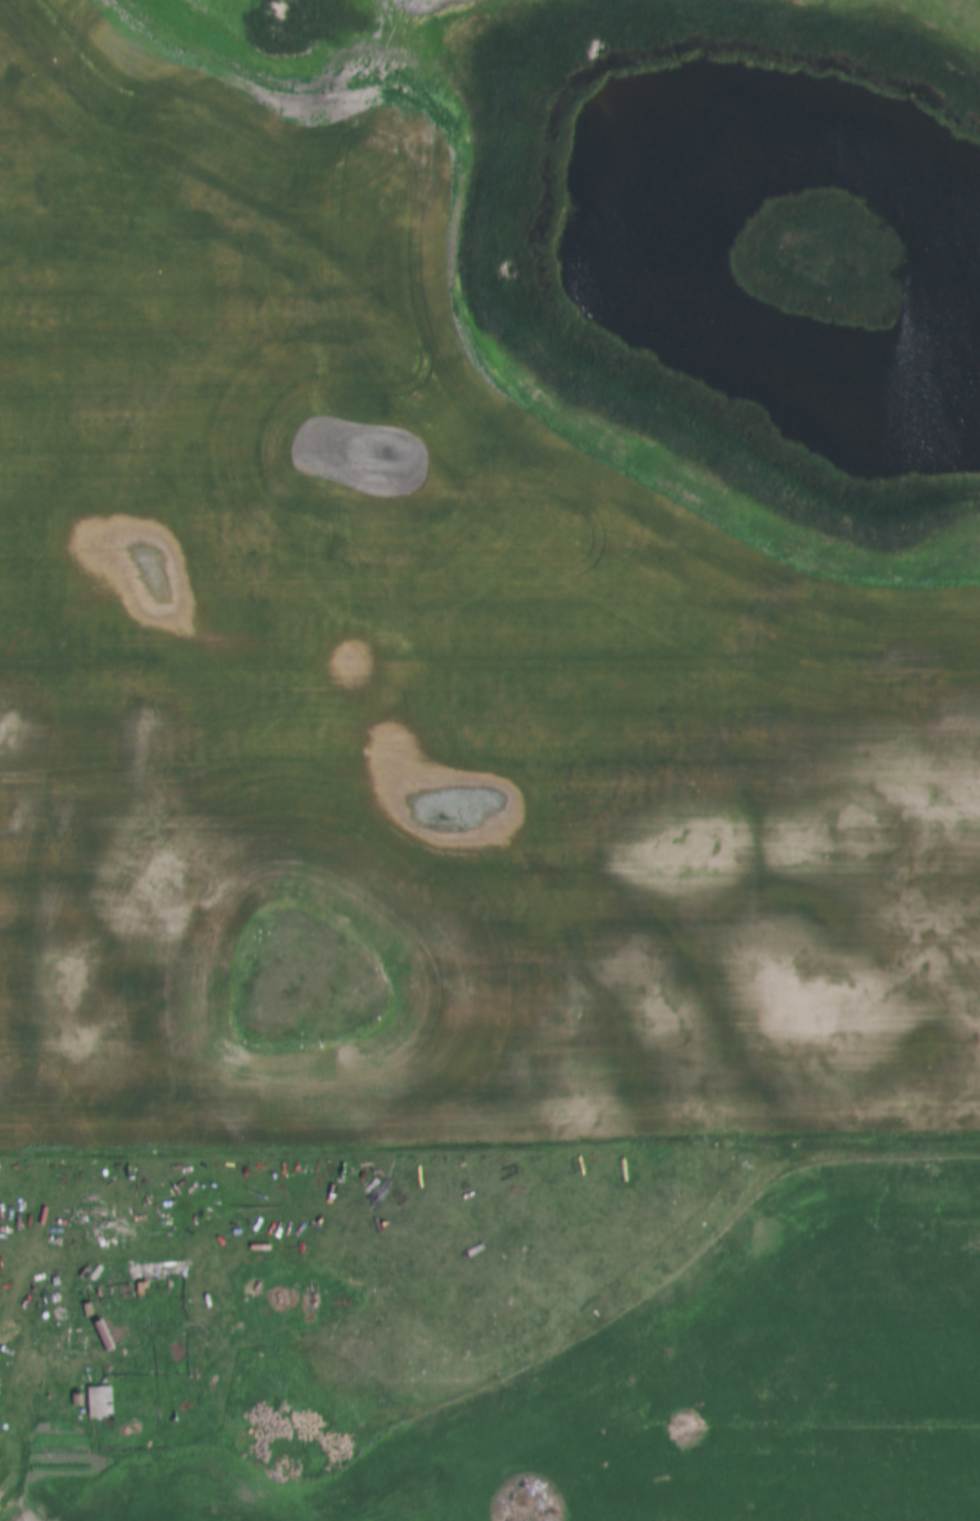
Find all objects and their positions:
road: (12, 1306)

